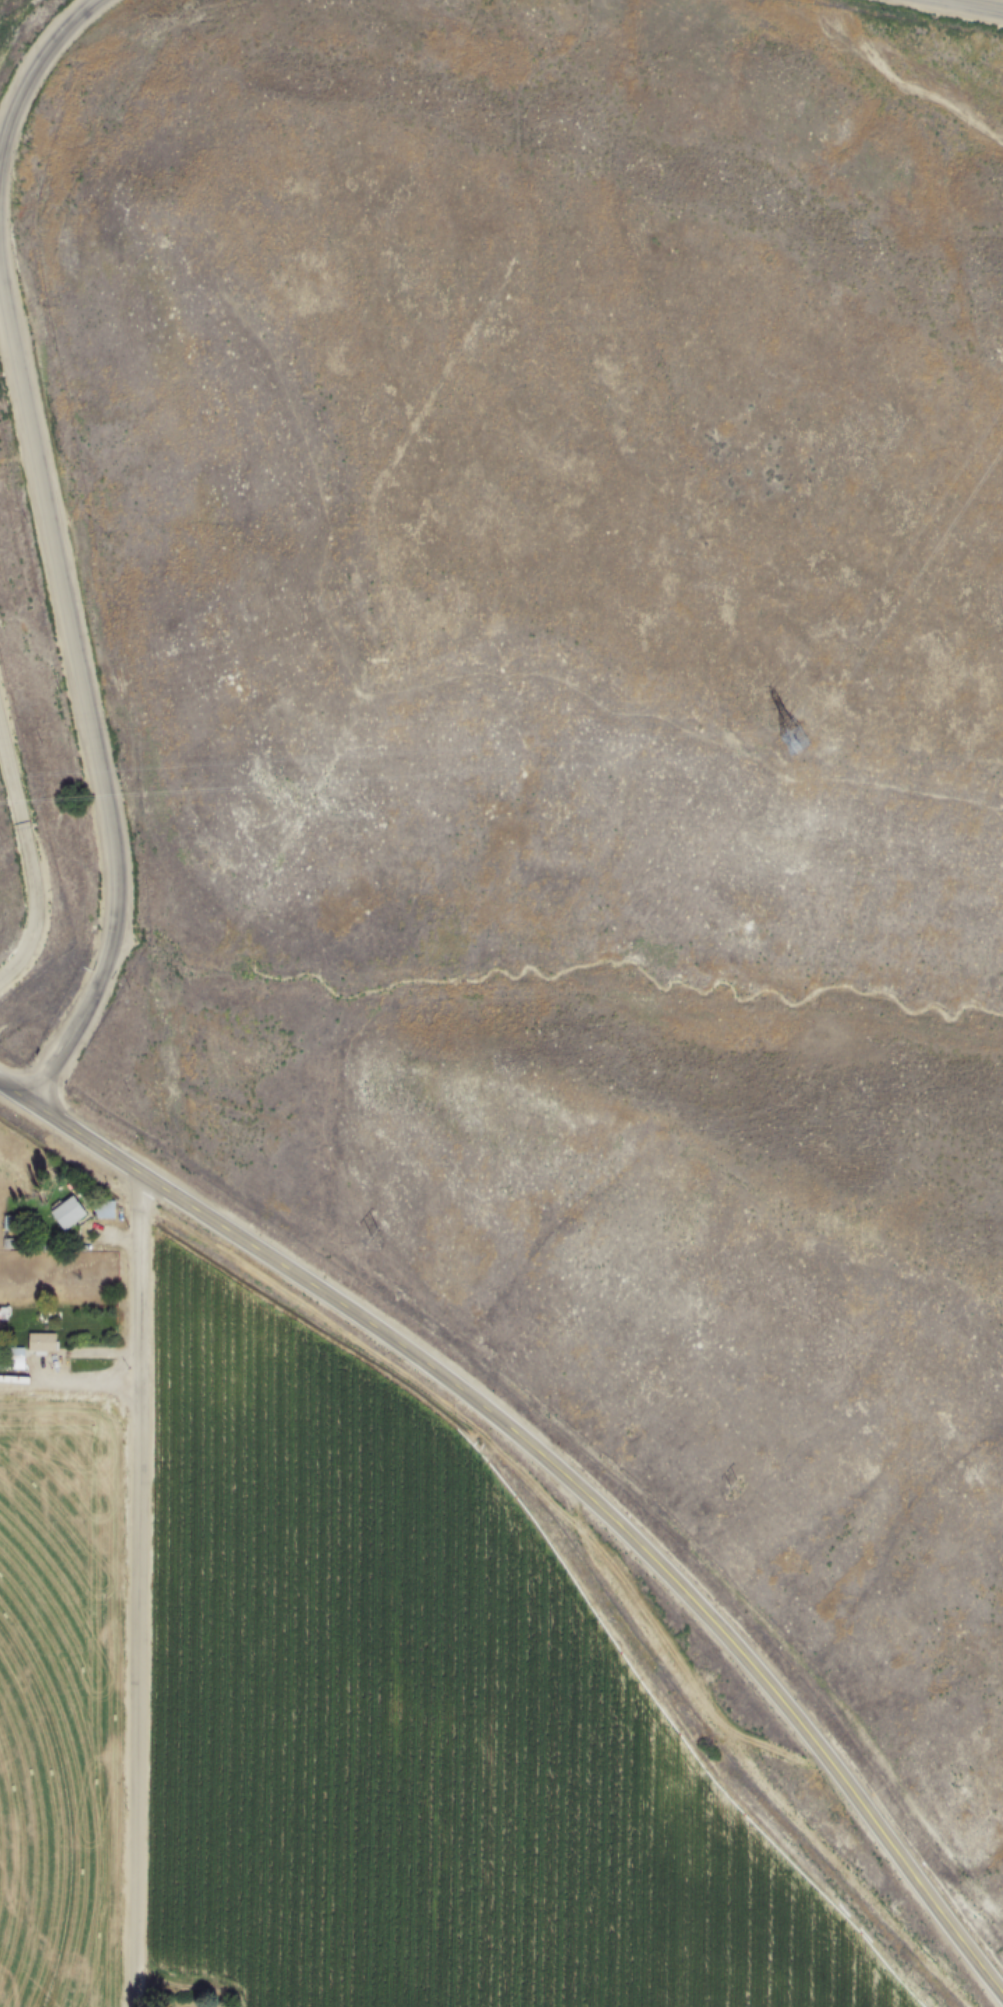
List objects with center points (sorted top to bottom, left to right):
road: (983, 2)
road: (30, 82)
road: (68, 598)
power tower: (796, 739)
road: (32, 852)
road: (84, 1025)
building: (104, 1208)
building: (68, 1212)
building: (42, 1341)
building: (12, 1359)
road: (561, 1468)
road: (141, 1592)

